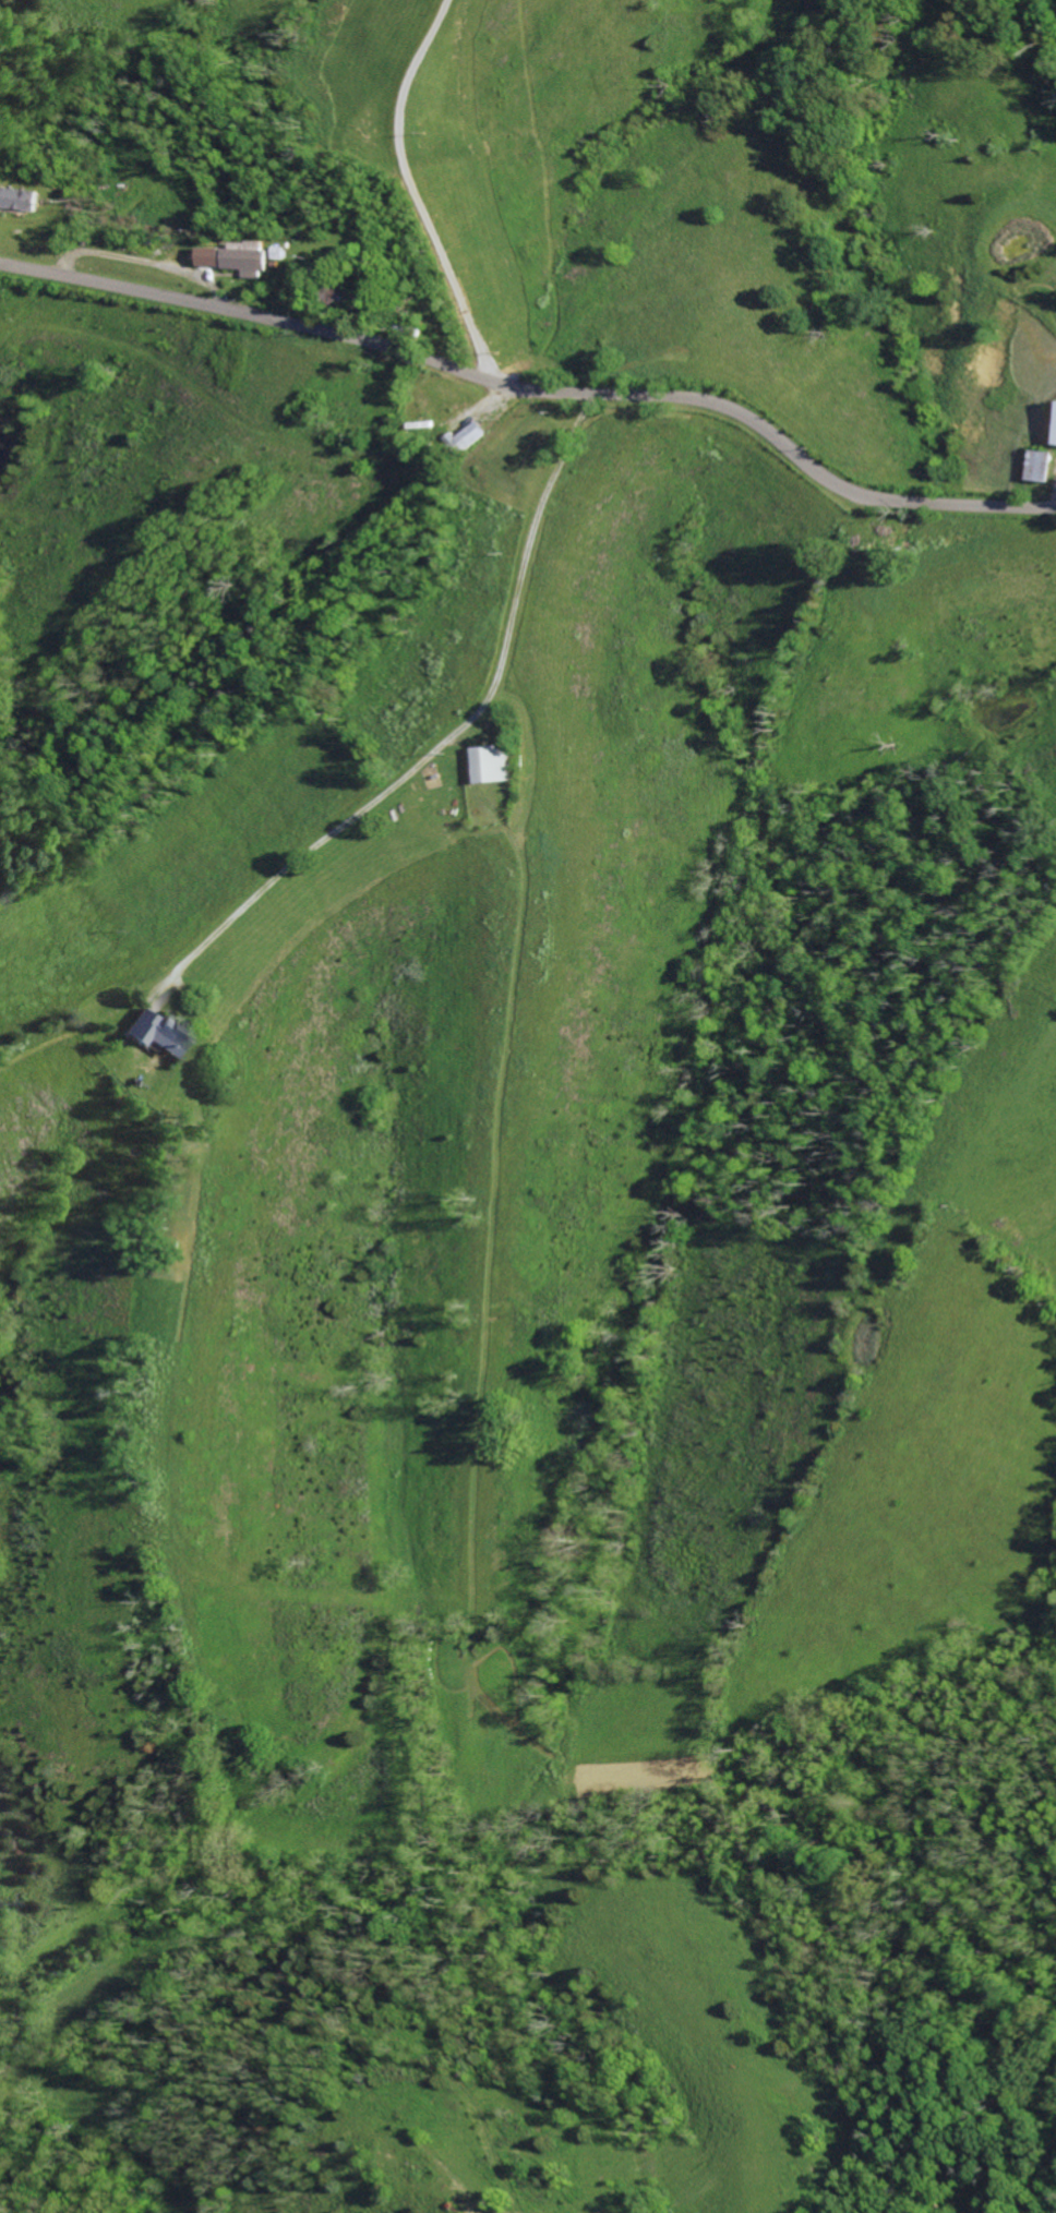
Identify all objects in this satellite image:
road: (413, 192)
building: (16, 199)
building: (208, 256)
building: (244, 258)
road: (533, 389)
building: (467, 435)
building: (1042, 466)
road: (457, 731)
building: (494, 765)
building: (153, 1032)

